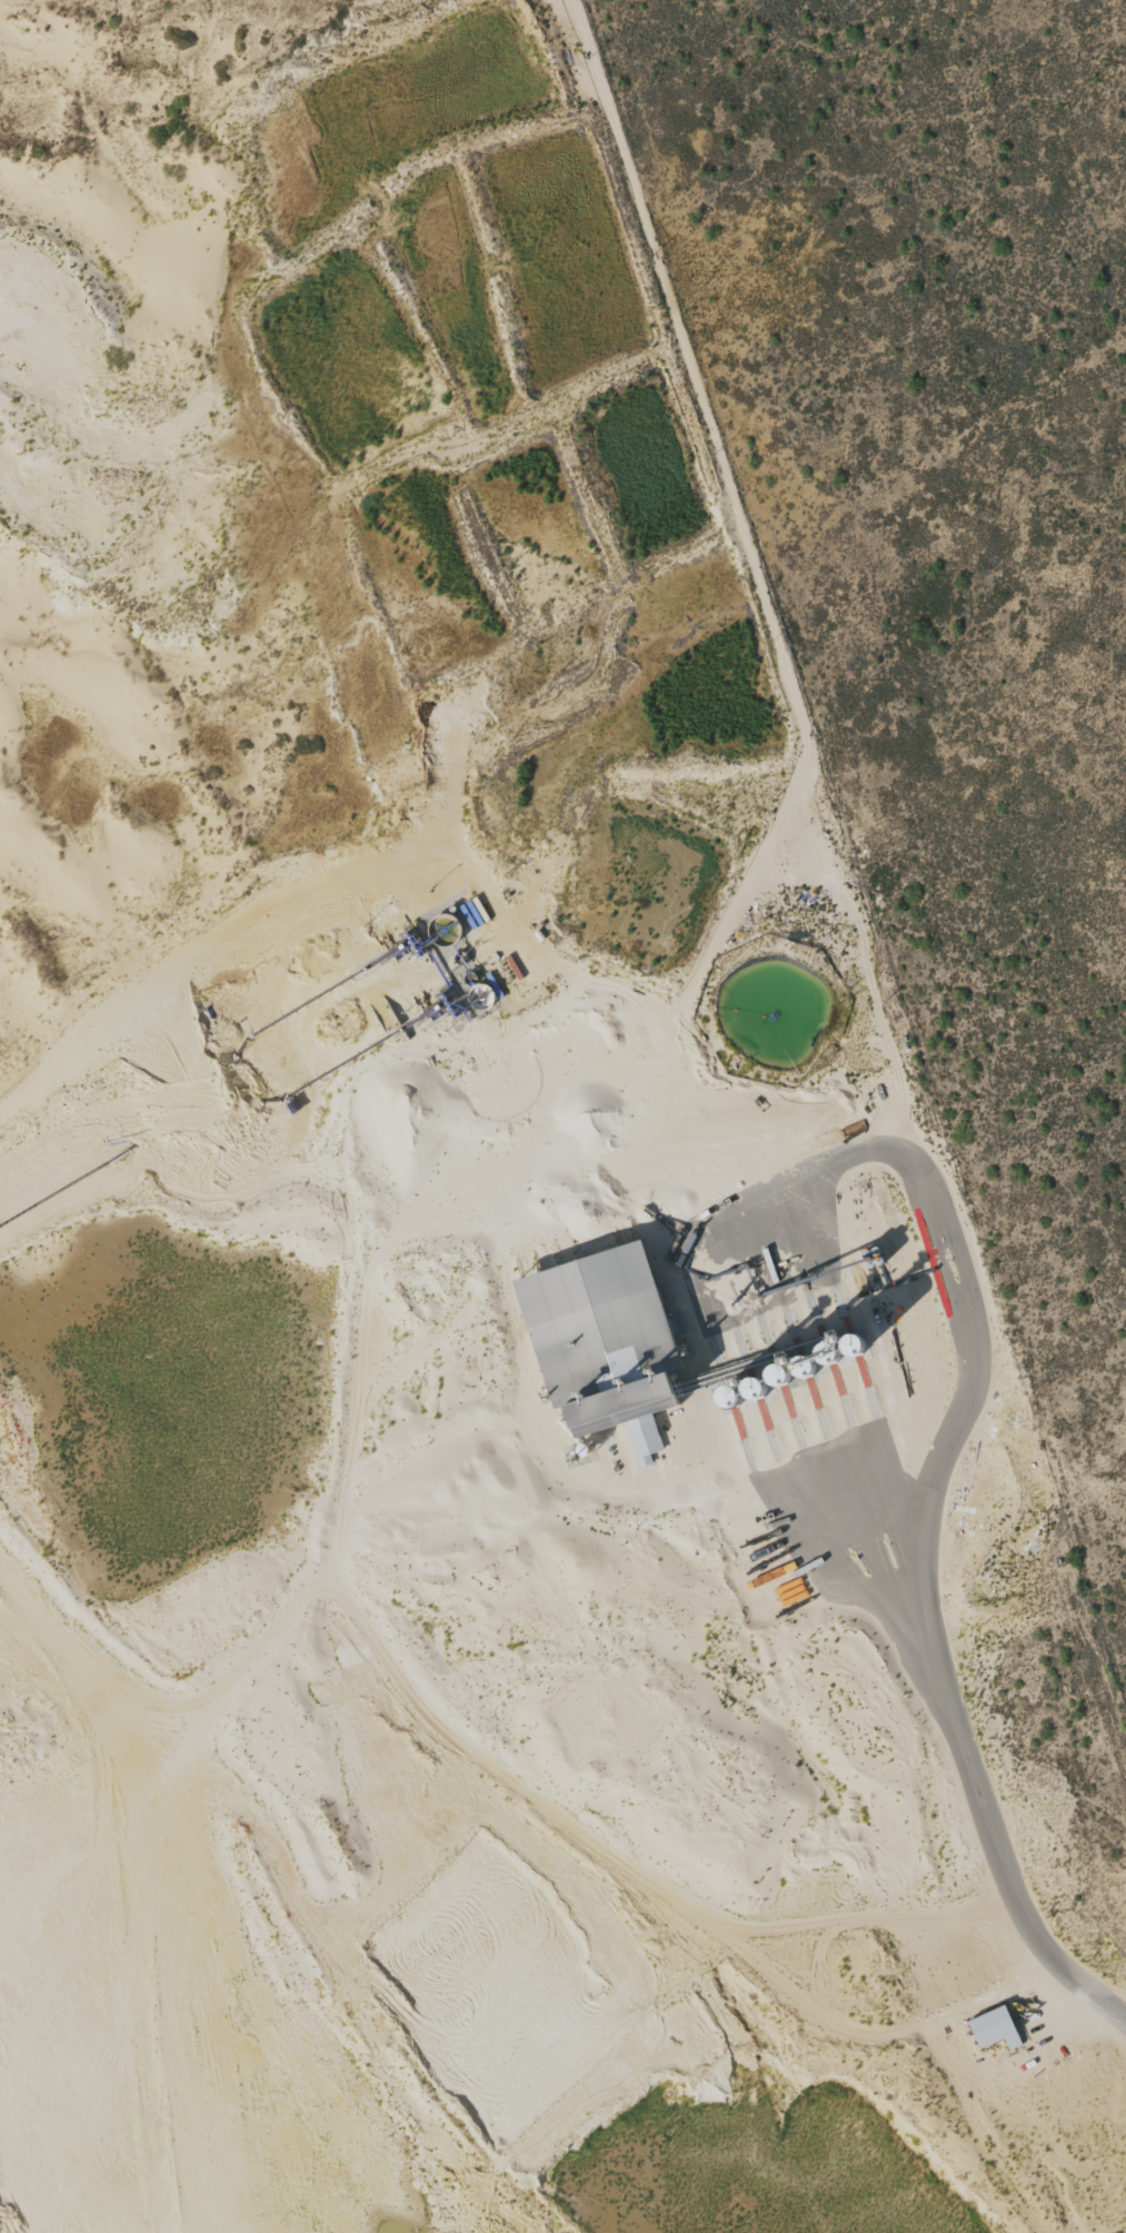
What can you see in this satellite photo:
building: (999, 2029)

